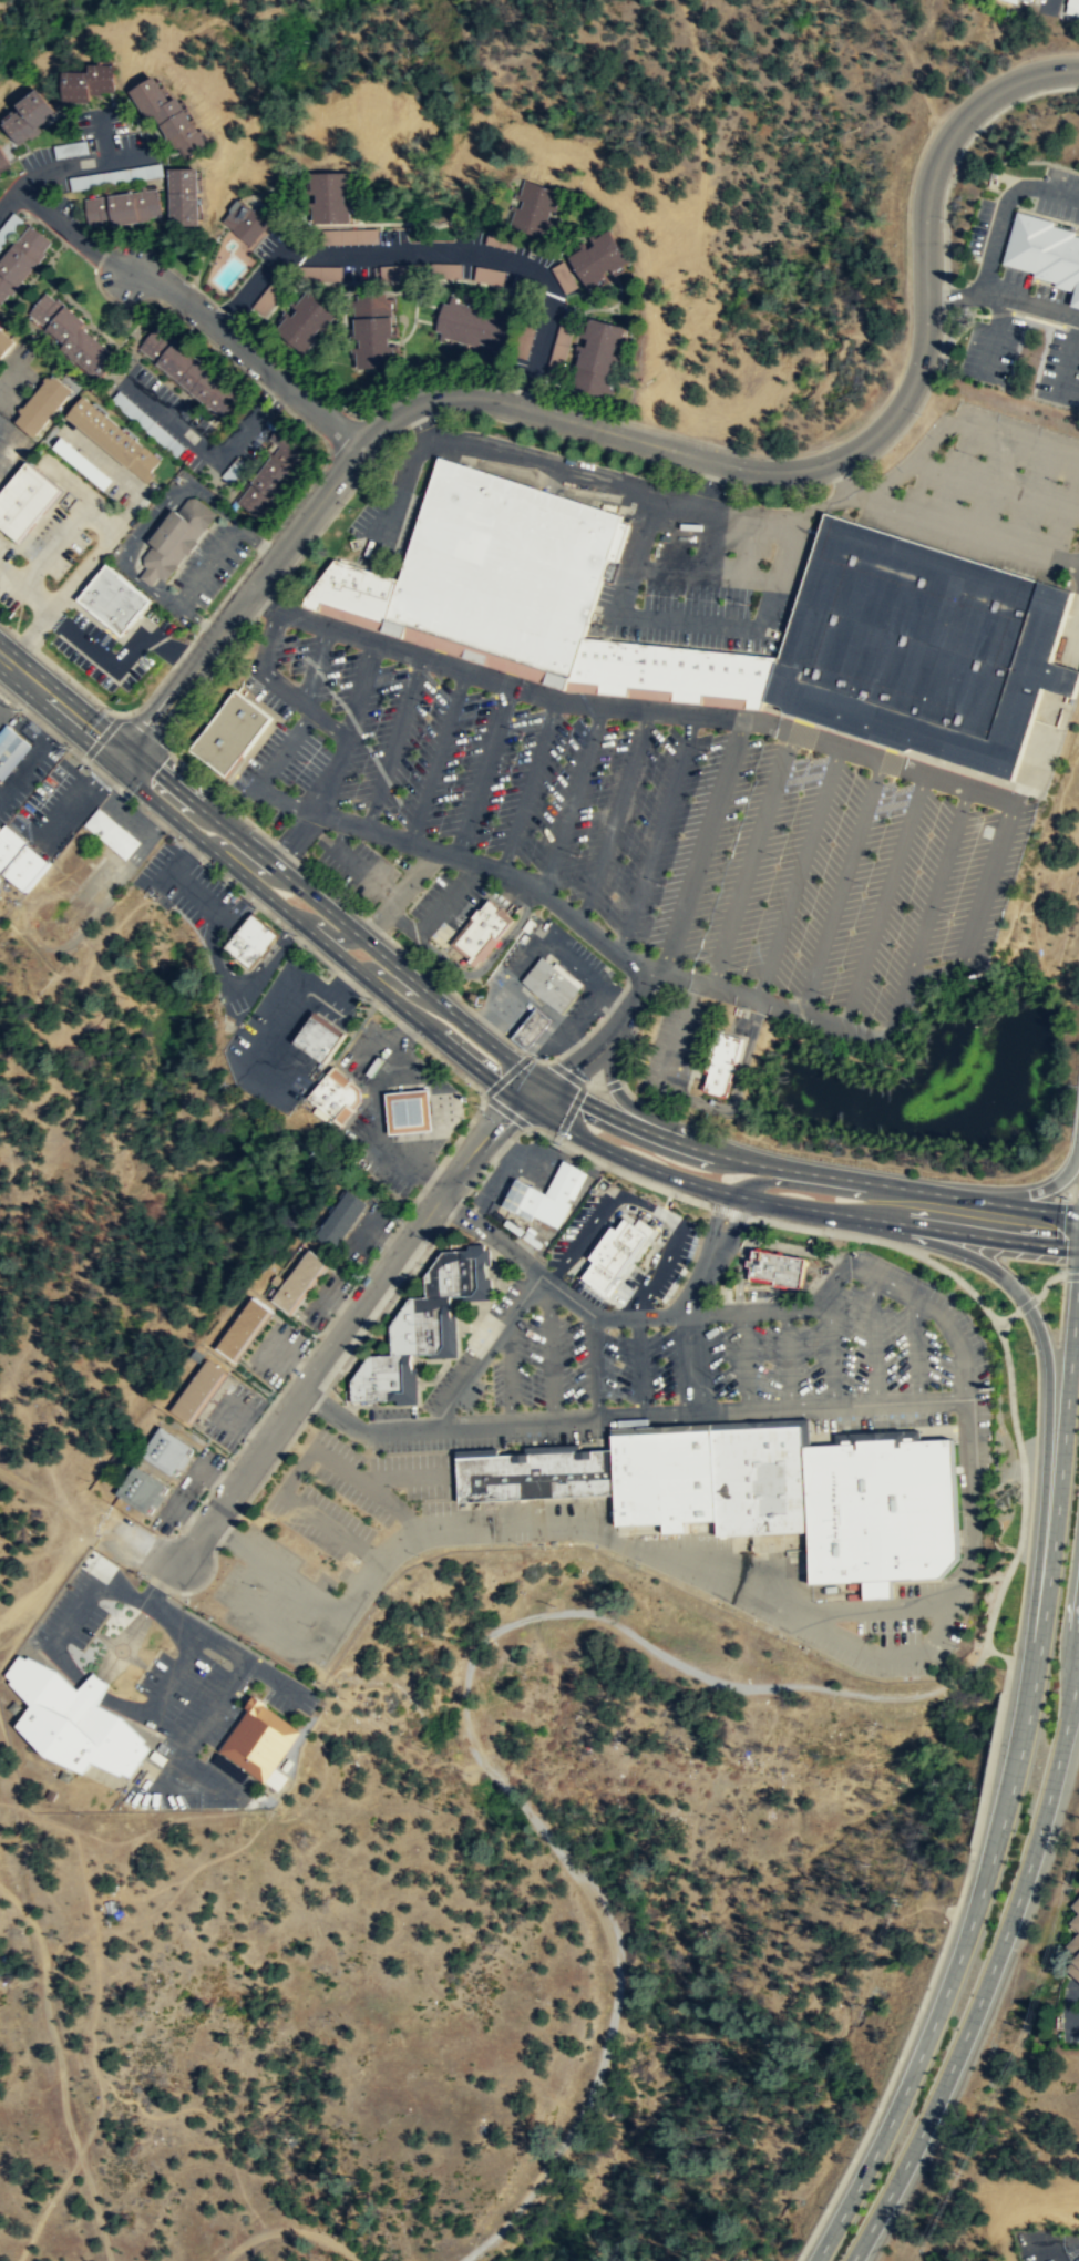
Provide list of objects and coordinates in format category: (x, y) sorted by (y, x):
building: (1011, 0)
building: (1027, 0)
building: (1030, 0)
road: (1046, 3)
building: (1071, 7)
building: (88, 81)
building: (169, 114)
building: (28, 115)
road: (106, 135)
building: (3, 161)
road: (16, 187)
road: (8, 195)
building: (183, 196)
road: (300, 197)
building: (331, 197)
building: (122, 206)
road: (1003, 206)
building: (533, 207)
road: (358, 209)
building: (246, 222)
road: (400, 223)
building: (357, 236)
building: (501, 240)
road: (433, 251)
building: (1045, 251)
building: (599, 257)
building: (20, 258)
building: (401, 270)
road: (134, 274)
building: (325, 274)
building: (487, 276)
building: (565, 277)
road: (436, 278)
road: (296, 281)
road: (582, 281)
road: (289, 285)
road: (297, 289)
road: (379, 291)
road: (618, 292)
road: (955, 292)
road: (493, 295)
road: (514, 295)
building: (269, 298)
road: (427, 304)
road: (1031, 305)
parking lot: (234, 306)
road: (610, 310)
road: (268, 311)
road: (232, 314)
road: (412, 314)
road: (423, 320)
building: (306, 322)
building: (474, 326)
building: (373, 330)
road: (984, 332)
building: (72, 335)
building: (6, 342)
road: (254, 357)
building: (598, 357)
road: (1067, 357)
road: (501, 363)
building: (189, 371)
road: (569, 389)
road: (531, 391)
street lamp: (546, 394)
building: (47, 404)
road: (988, 430)
road: (8, 439)
building: (113, 439)
road: (657, 444)
road: (212, 454)
road: (876, 455)
road: (101, 464)
road: (555, 464)
road: (841, 469)
road: (965, 474)
building: (273, 475)
street lamp: (363, 481)
road: (345, 497)
road: (394, 500)
building: (24, 501)
parking lot: (781, 525)
road: (717, 527)
road: (750, 527)
road: (64, 528)
road: (956, 528)
building: (177, 536)
building: (666, 536)
road: (134, 538)
road: (223, 546)
parking lot: (49, 549)
parking lot: (208, 564)
building: (505, 565)
road: (699, 575)
road: (73, 578)
road: (25, 584)
building: (357, 588)
road: (275, 589)
building: (113, 597)
road: (266, 602)
road: (89, 613)
road: (281, 626)
road: (715, 626)
road: (268, 638)
building: (923, 645)
road: (1073, 645)
parking lot: (102, 651)
road: (422, 658)
road: (119, 661)
road: (316, 665)
road: (408, 667)
road: (506, 667)
building: (675, 668)
road: (423, 671)
road: (165, 674)
road: (208, 677)
road: (360, 690)
road: (644, 691)
road: (52, 699)
road: (476, 699)
road: (584, 700)
road: (304, 702)
road: (511, 705)
road: (121, 715)
road: (589, 727)
road: (578, 729)
building: (230, 732)
road: (806, 738)
road: (810, 739)
road: (393, 742)
road: (116, 746)
road: (284, 748)
building: (11, 750)
road: (34, 753)
road: (107, 756)
road: (436, 756)
road: (119, 758)
road: (806, 758)
parking lot: (27, 763)
road: (1036, 769)
road: (482, 770)
road: (331, 773)
road: (801, 781)
road: (893, 781)
road: (527, 785)
road: (216, 794)
road: (284, 798)
road: (572, 800)
road: (78, 803)
parking lot: (56, 806)
road: (614, 816)
parking lot: (633, 824)
building: (0, 826)
building: (111, 832)
road: (658, 833)
road: (292, 836)
road: (151, 840)
road: (183, 843)
road: (702, 845)
road: (284, 850)
parking lot: (138, 853)
road: (749, 859)
building: (19, 860)
road: (245, 861)
road: (352, 863)
road: (497, 869)
road: (797, 874)
road: (987, 882)
road: (187, 885)
road: (938, 885)
road: (330, 888)
road: (840, 888)
road: (397, 891)
parking lot: (192, 893)
road: (444, 898)
road: (883, 902)
road: (337, 918)
road: (398, 921)
road: (373, 924)
road: (322, 928)
building: (483, 929)
road: (289, 932)
road: (316, 935)
building: (250, 941)
road: (219, 953)
road: (315, 953)
road: (265, 955)
road: (485, 963)
road: (268, 967)
parking lot: (558, 969)
road: (429, 972)
road: (583, 972)
road: (935, 973)
road: (348, 980)
building: (551, 984)
road: (625, 985)
road: (401, 989)
road: (613, 1001)
road: (614, 1001)
parking lot: (237, 1003)
road: (285, 1003)
road: (897, 1005)
road: (378, 1006)
road: (777, 1007)
road: (516, 1013)
street lamp: (380, 1024)
road: (487, 1024)
road: (596, 1024)
road: (616, 1026)
building: (533, 1027)
gas station: (533, 1027)
road: (407, 1029)
parking lot: (286, 1032)
road: (677, 1032)
building: (318, 1039)
road: (579, 1039)
road: (625, 1041)
street lamp: (343, 1042)
road: (515, 1045)
parking lot: (672, 1046)
street lamp: (414, 1048)
road: (566, 1049)
road: (583, 1050)
road: (553, 1058)
road: (537, 1059)
building: (723, 1061)
road: (337, 1065)
road: (556, 1067)
road: (505, 1076)
road: (558, 1079)
road: (575, 1079)
road: (613, 1083)
road: (594, 1086)
road: (734, 1090)
road: (537, 1092)
road: (362, 1093)
building: (337, 1094)
road: (630, 1106)
road: (505, 1110)
building: (409, 1111)
gas station: (409, 1111)
road: (569, 1111)
road: (380, 1114)
street lamp: (462, 1118)
road: (583, 1121)
street lamp: (436, 1153)
street lamp: (449, 1153)
road: (456, 1170)
road: (660, 1172)
road: (808, 1172)
street lamp: (471, 1184)
road: (818, 1186)
road: (1038, 1190)
building: (546, 1194)
road: (666, 1199)
road: (628, 1206)
road: (600, 1209)
road: (659, 1216)
road: (716, 1217)
building: (340, 1219)
street lamp: (403, 1219)
road: (733, 1225)
road: (944, 1230)
parking lot: (366, 1232)
road: (376, 1232)
road: (763, 1241)
street lamp: (697, 1244)
road: (643, 1245)
building: (615, 1254)
street lamp: (422, 1264)
building: (779, 1266)
street lamp: (965, 1266)
road: (657, 1273)
road: (1071, 1274)
building: (454, 1275)
road: (360, 1276)
building: (299, 1279)
street lamp: (850, 1281)
road: (1046, 1282)
road: (737, 1285)
road: (770, 1287)
street lamp: (953, 1292)
road: (609, 1293)
street lamp: (672, 1296)
parking lot: (322, 1298)
road: (610, 1299)
road: (336, 1304)
road: (1025, 1304)
road: (579, 1305)
street lamp: (528, 1309)
road: (1006, 1318)
road: (452, 1325)
building: (420, 1326)
building: (243, 1327)
road: (1050, 1327)
street lamp: (318, 1338)
road: (873, 1340)
road: (830, 1346)
road: (484, 1349)
road: (549, 1349)
road: (916, 1349)
parking lot: (276, 1352)
street lamp: (1031, 1352)
parking lot: (851, 1355)
road: (285, 1358)
road: (788, 1358)
parking lot: (558, 1360)
road: (744, 1360)
road: (343, 1363)
road: (691, 1363)
road: (593, 1365)
road: (638, 1366)
road: (507, 1371)
building: (381, 1379)
road: (1047, 1380)
building: (198, 1390)
road: (337, 1395)
road: (625, 1395)
street lamp: (658, 1401)
road: (814, 1406)
road: (290, 1407)
street lamp: (475, 1410)
parking lot: (232, 1415)
road: (633, 1417)
road: (608, 1421)
road: (239, 1425)
road: (630, 1427)
road: (701, 1427)
road: (609, 1429)
building: (165, 1450)
street lamp: (233, 1459)
road: (339, 1463)
parking lot: (198, 1469)
road: (296, 1470)
road: (210, 1474)
building: (537, 1476)
road: (407, 1478)
building: (667, 1479)
building: (762, 1480)
building: (140, 1489)
road: (455, 1489)
road: (1056, 1489)
road: (967, 1494)
road: (382, 1496)
fountain: (997, 1501)
road: (61, 1509)
parking lot: (171, 1509)
building: (885, 1513)
road: (185, 1515)
road: (410, 1520)
road: (321, 1521)
road: (523, 1521)
road: (223, 1532)
parking lot: (333, 1543)
road: (372, 1555)
road: (152, 1556)
road: (261, 1559)
road: (1013, 1560)
street lamp: (145, 1575)
parking lot: (763, 1577)
road: (49, 1581)
road: (870, 1606)
road: (217, 1630)
road: (94, 1631)
road: (102, 1632)
road: (205, 1637)
road: (890, 1653)
road: (979, 1656)
road: (145, 1667)
road: (247, 1673)
road: (71, 1677)
road: (242, 1696)
building: (73, 1719)
road: (233, 1725)
road: (465, 1735)
building: (258, 1739)
road: (186, 1743)
road: (707, 1787)
street lamp: (968, 1850)
road: (228, 1851)
street lamp: (957, 1897)
building: (1073, 1942)
street lamp: (938, 1951)
road: (994, 1966)
road: (96, 1987)
road: (948, 1992)
street lamp: (919, 2005)
street lamp: (898, 2056)
road: (60, 2069)
street lamp: (876, 2107)
street lamp: (851, 2158)
road: (45, 2207)
street lamp: (825, 2207)
road: (290, 2229)
street lamp: (799, 2253)

